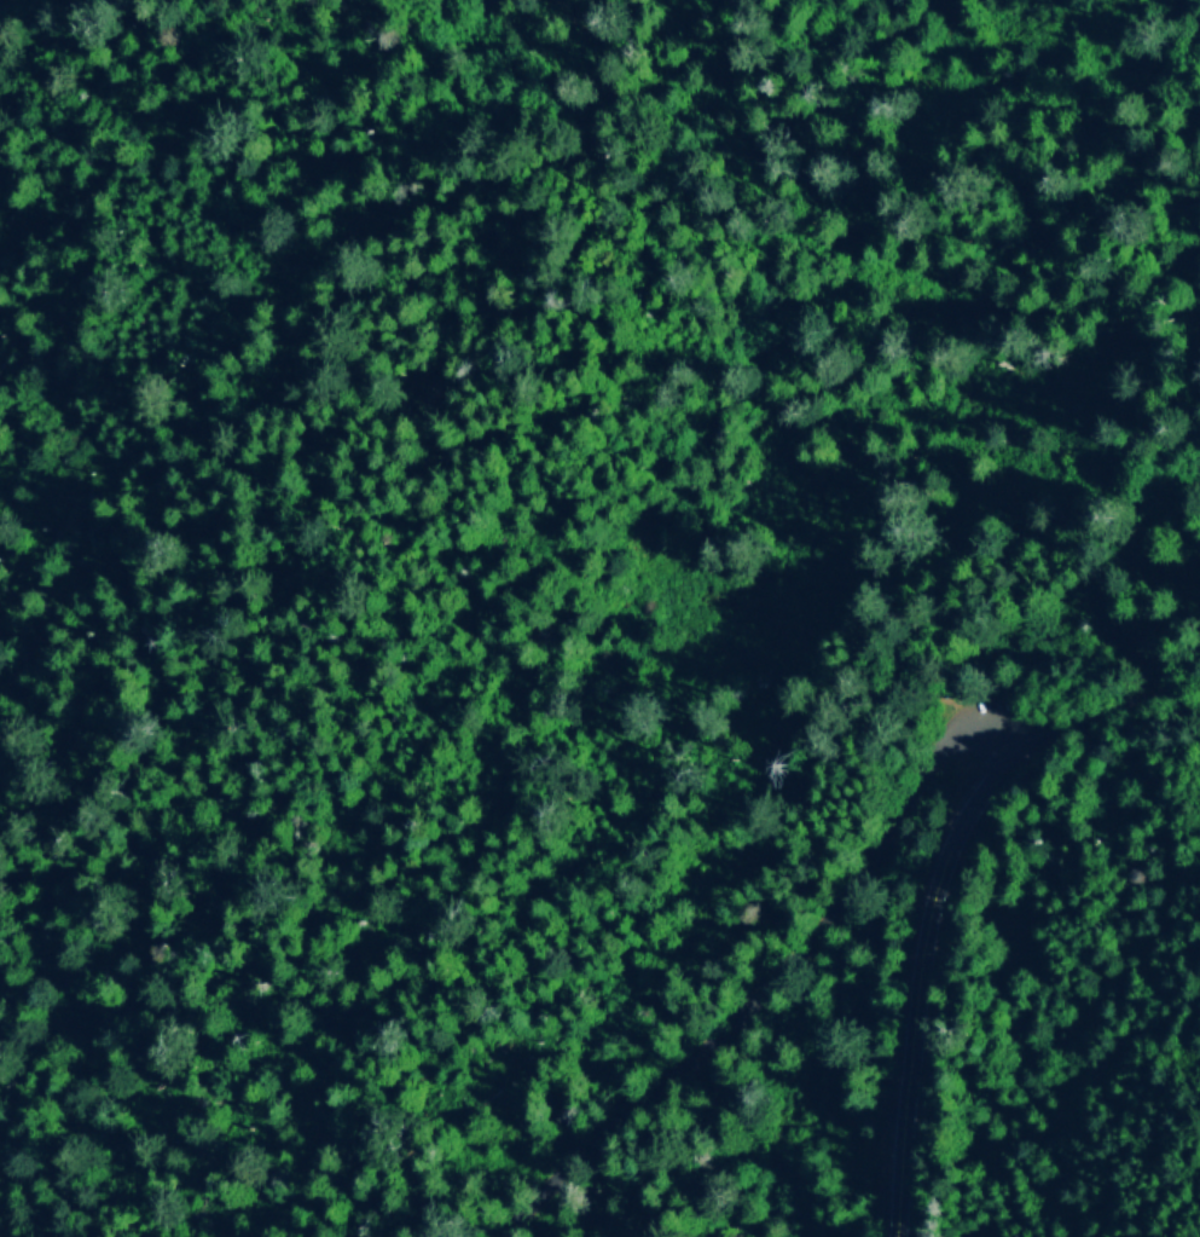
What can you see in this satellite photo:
road: (1172, 139)
road: (1156, 385)
road: (1051, 641)
road: (945, 703)
road: (1134, 704)
parking lot: (1008, 717)
road: (1001, 732)
road: (1042, 735)
road: (689, 930)
road: (906, 977)
road: (752, 990)

